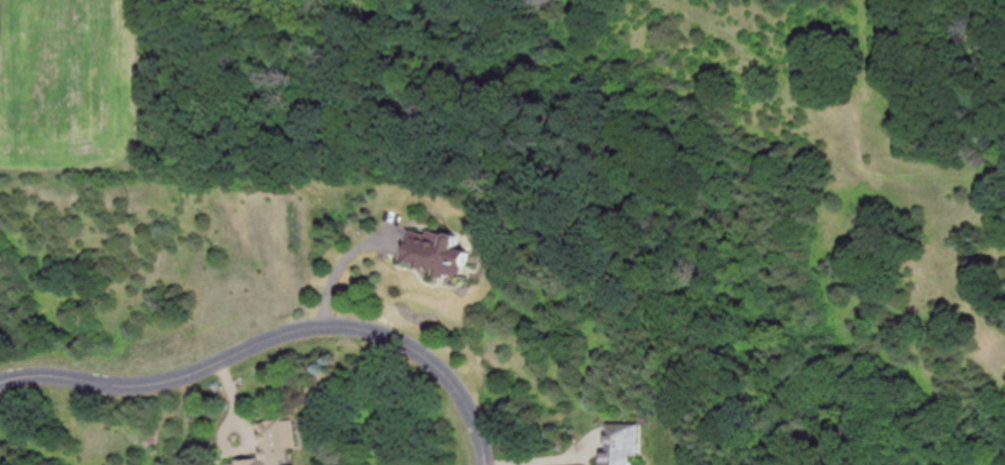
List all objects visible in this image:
building: (436, 251)
road: (339, 272)
road: (275, 345)
building: (277, 443)
building: (626, 443)
road: (560, 458)

